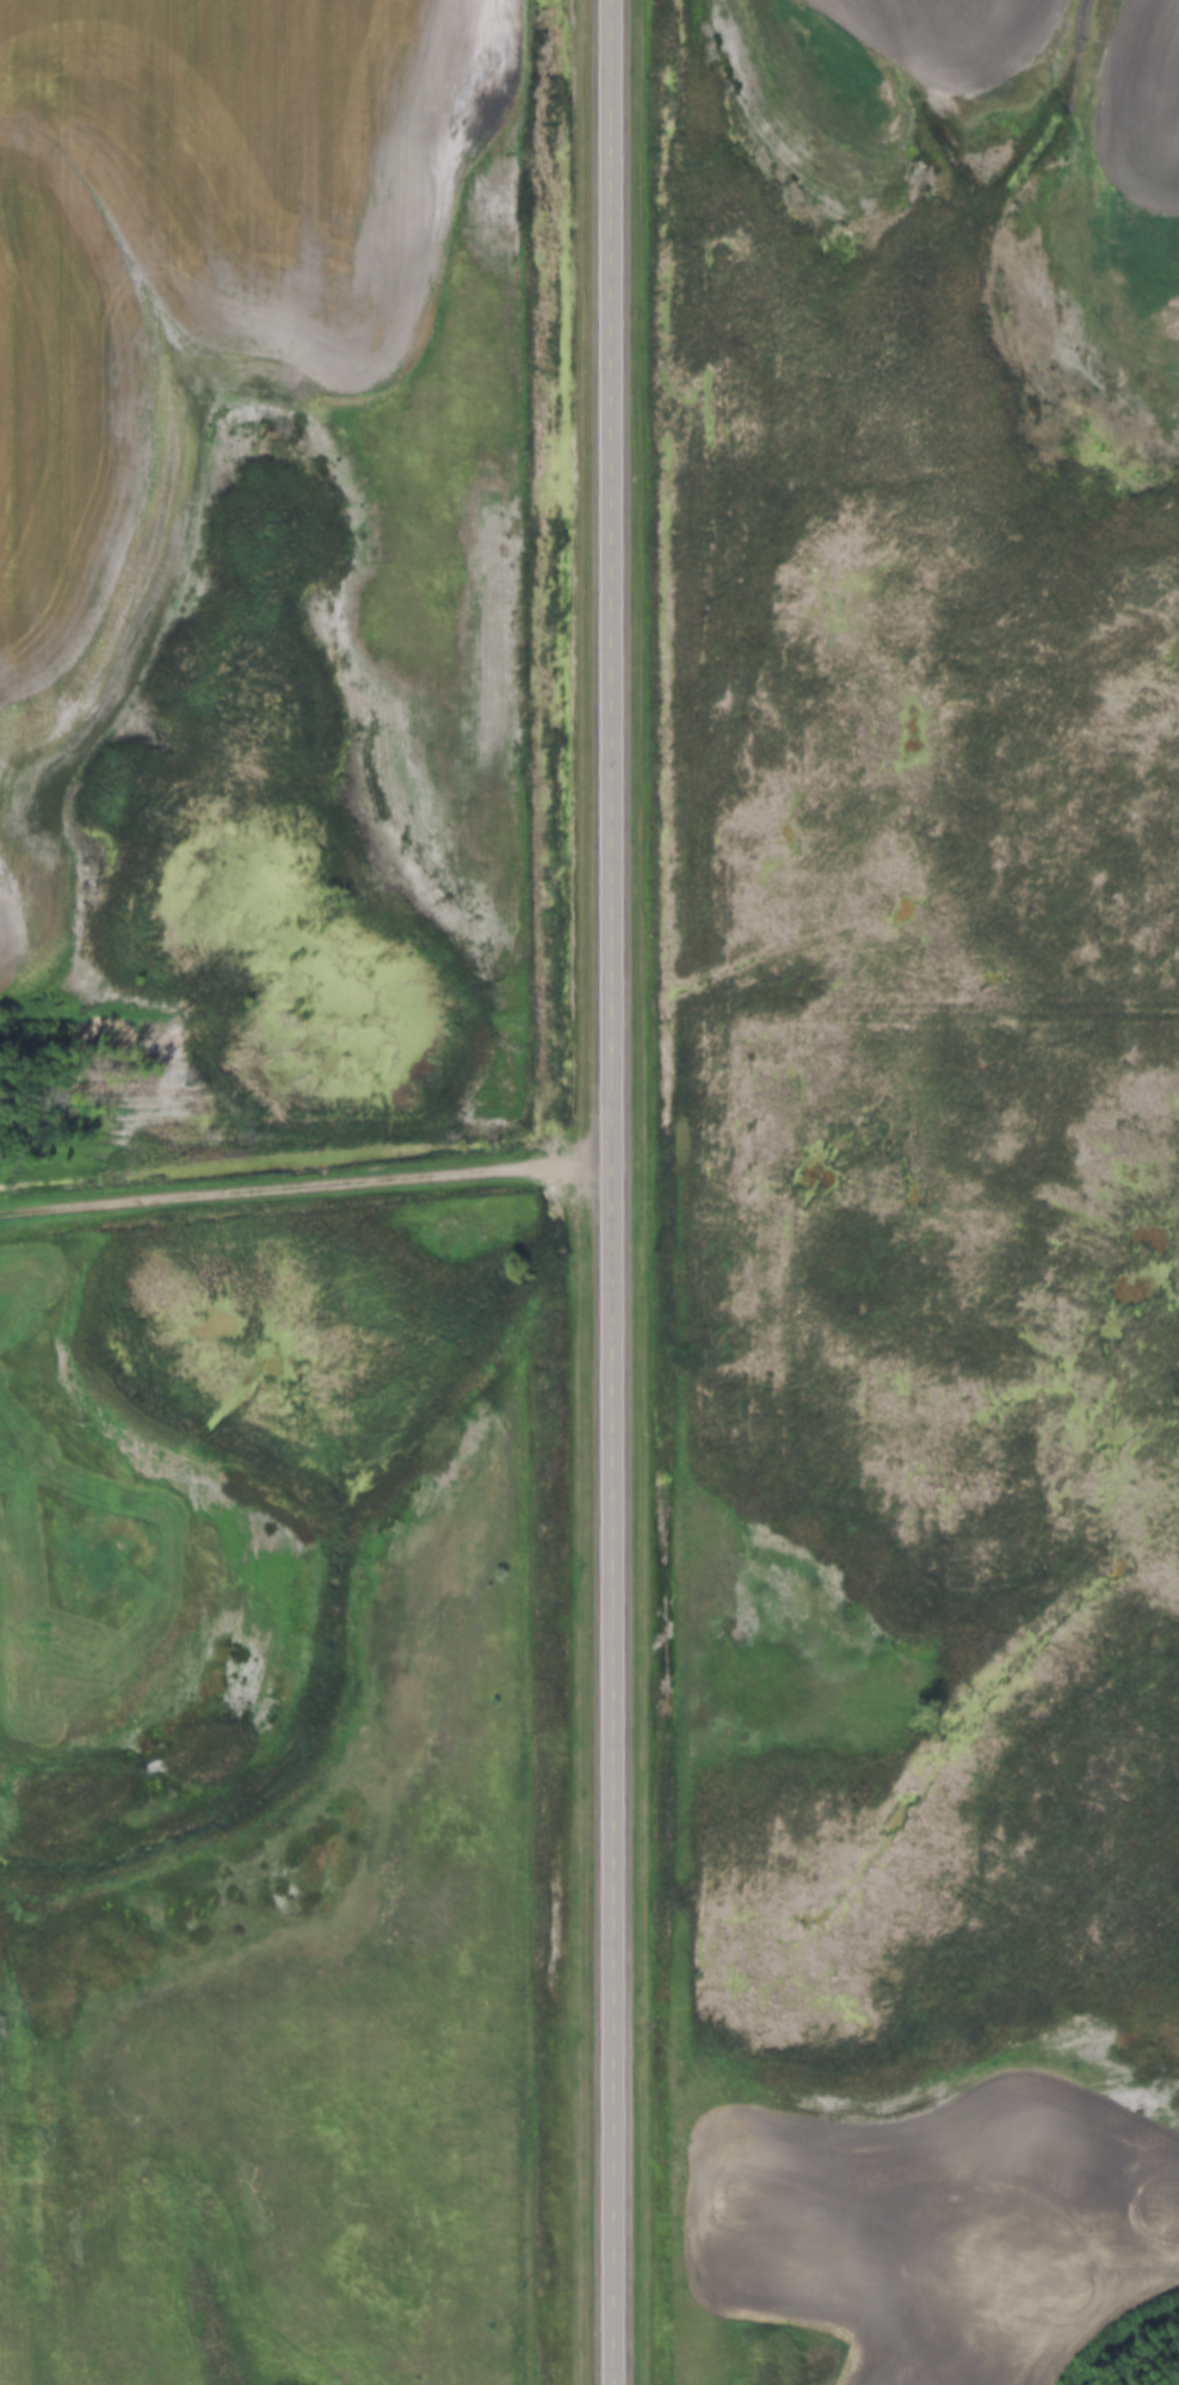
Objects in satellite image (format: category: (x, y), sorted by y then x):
road: (303, 1187)
road: (607, 1192)

